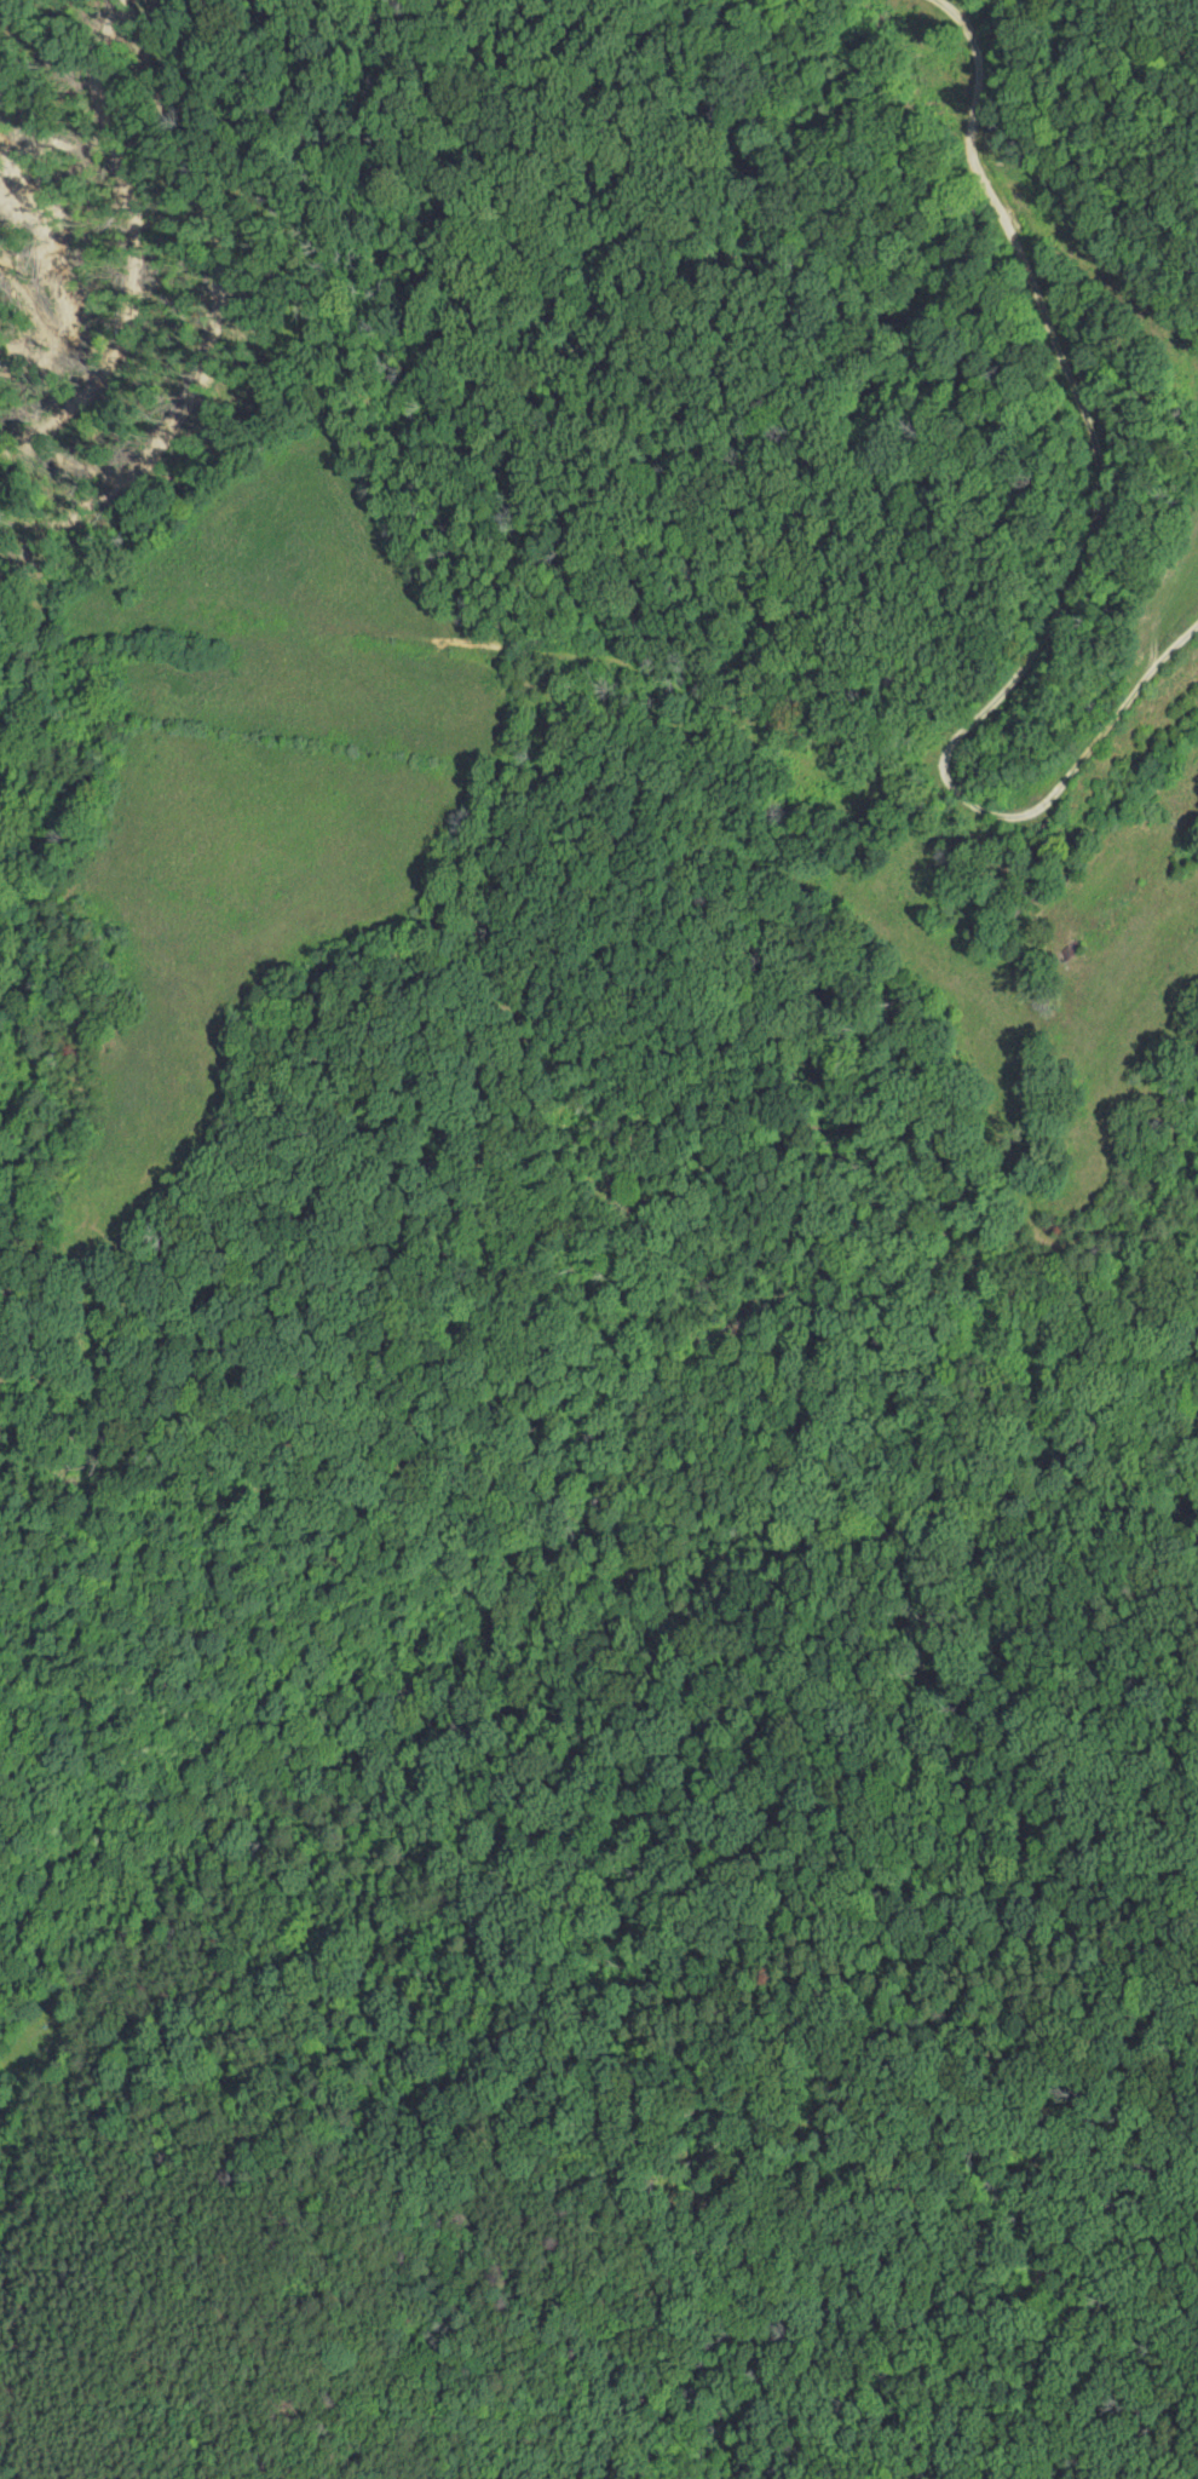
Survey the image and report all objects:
road: (1085, 566)

